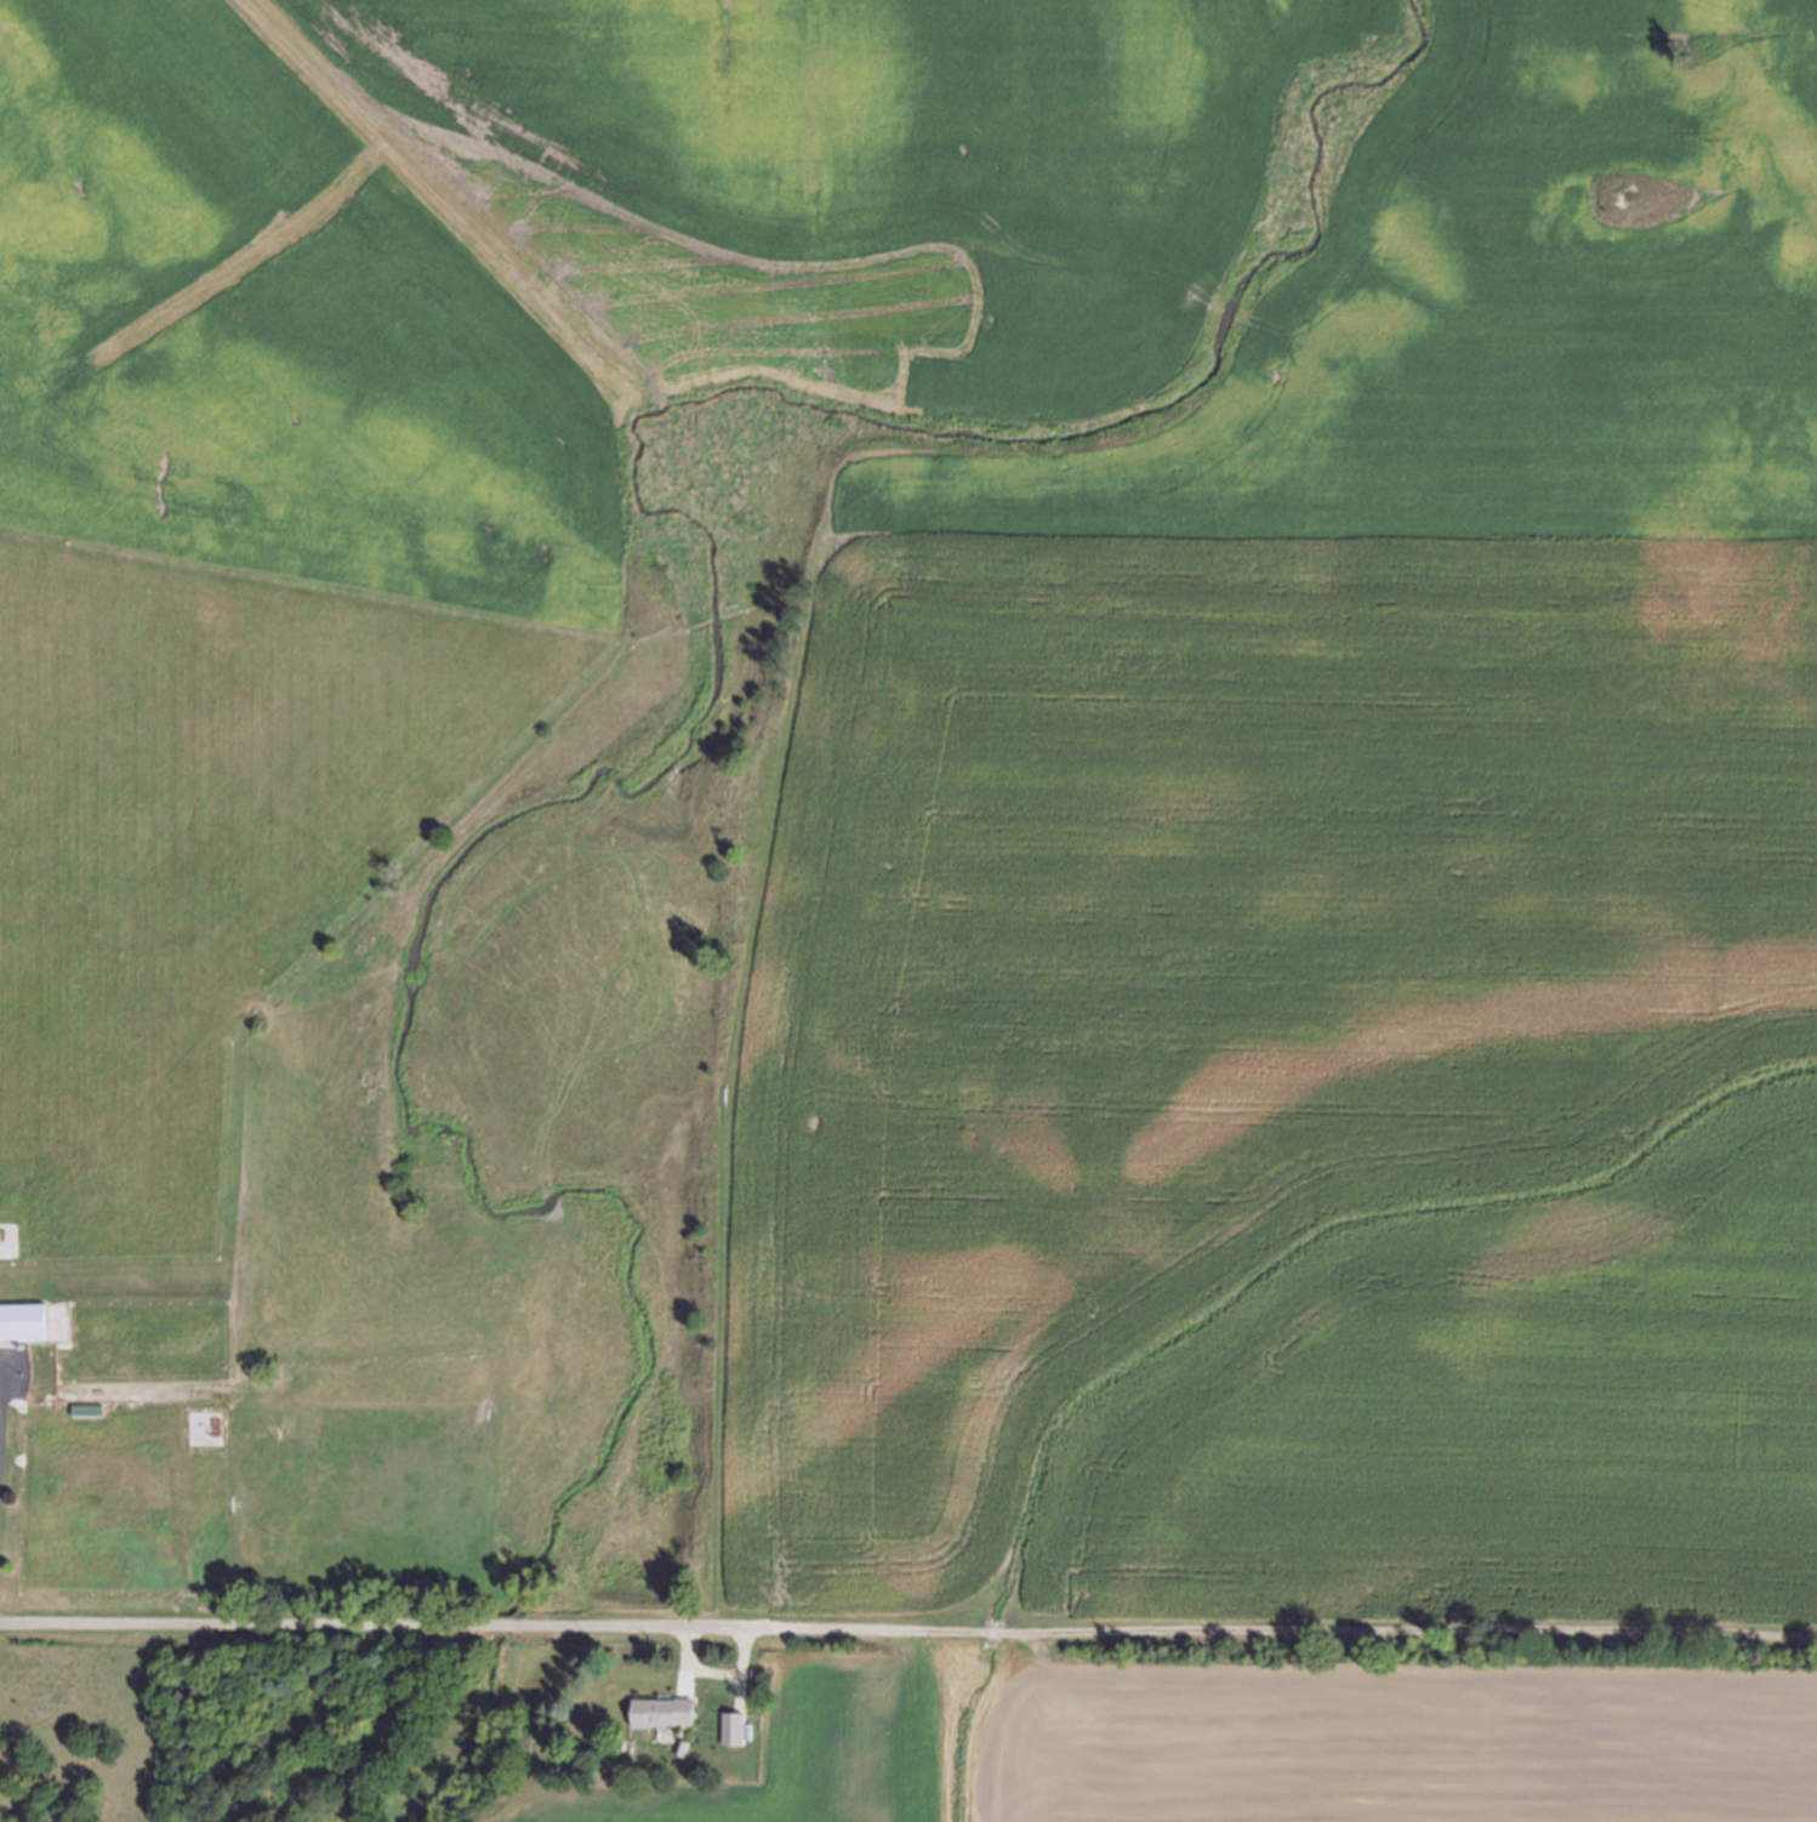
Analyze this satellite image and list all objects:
building: (24, 1319)
building: (85, 1420)
road: (371, 1621)
road: (1278, 1634)
building: (666, 1710)
building: (734, 1727)

